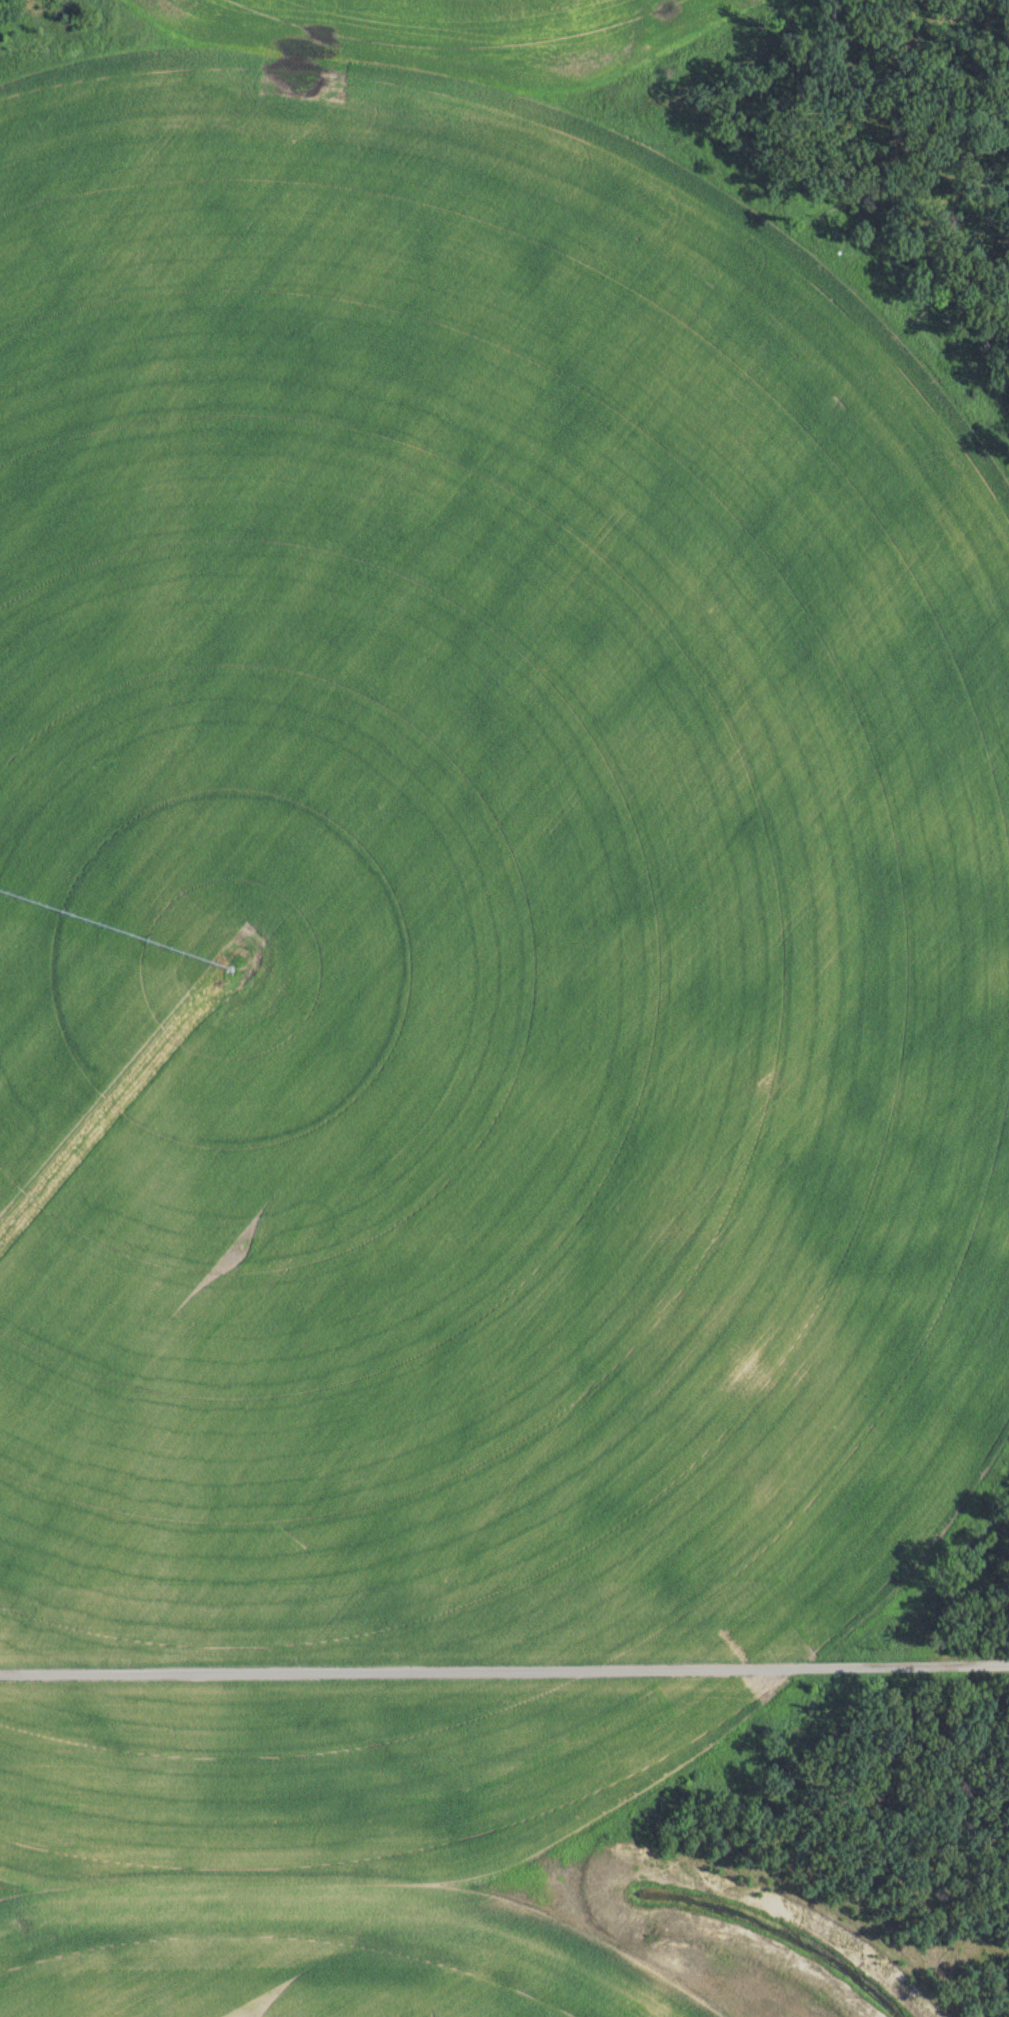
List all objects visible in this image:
wastewater plant: (504, 1008)
road: (504, 1670)

